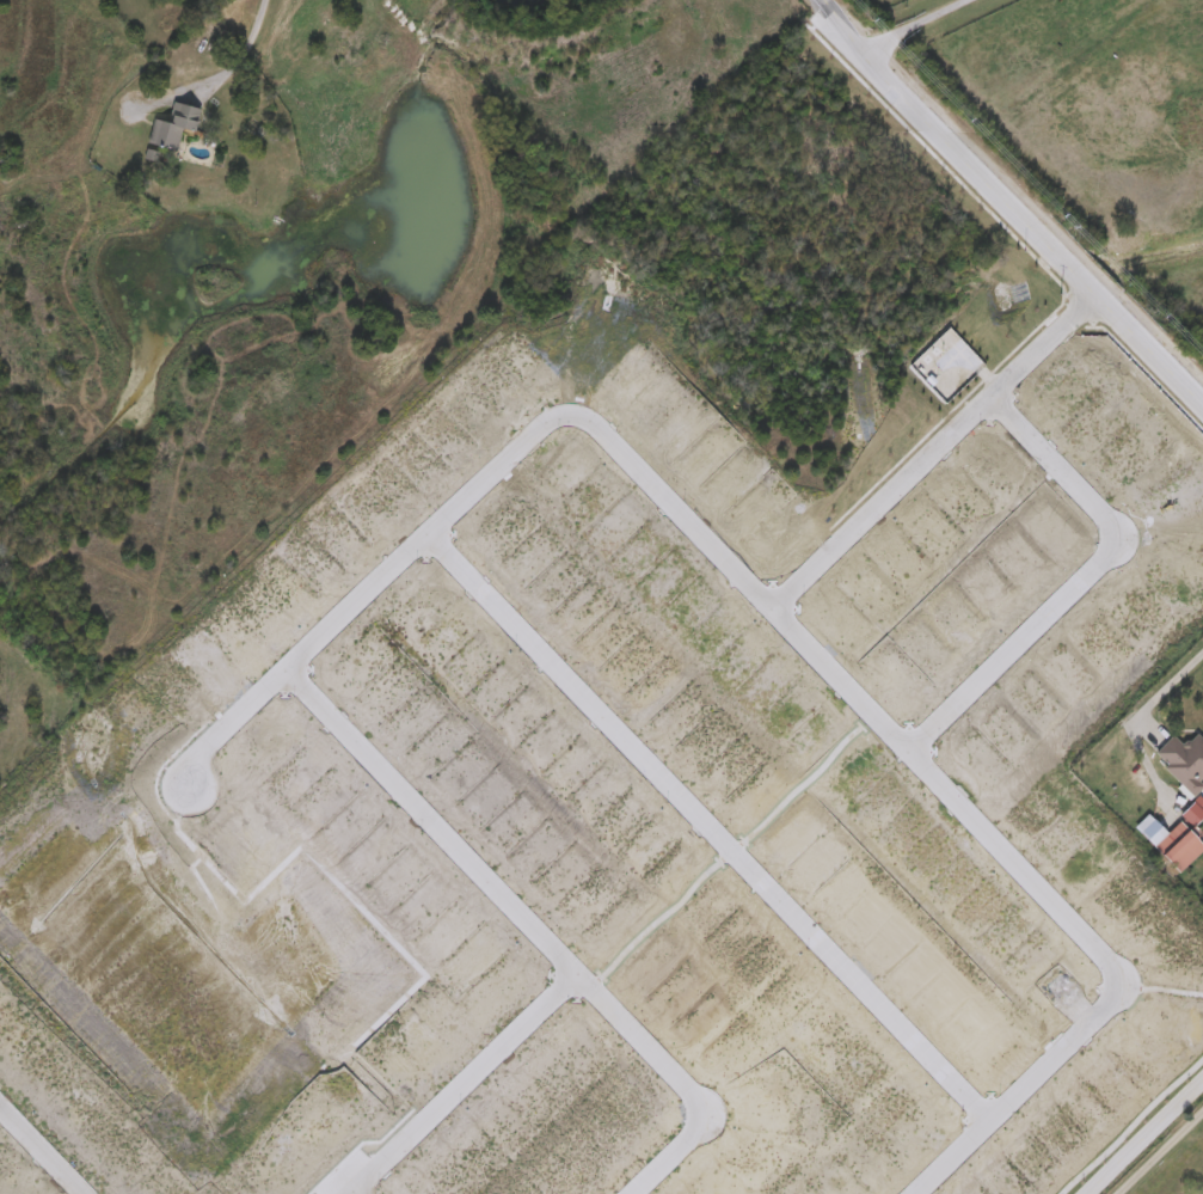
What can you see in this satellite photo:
road: (913, 25)
road: (235, 61)
building: (173, 129)
road: (1009, 194)
road: (941, 448)
road: (1088, 581)
road: (378, 584)
road: (1160, 692)
road: (859, 694)
building: (1184, 764)
road: (712, 829)
building: (1174, 845)
road: (538, 927)
road: (467, 1084)
road: (1027, 1092)
road: (1146, 1138)
road: (47, 1145)
road: (1156, 1151)
road: (362, 1189)

